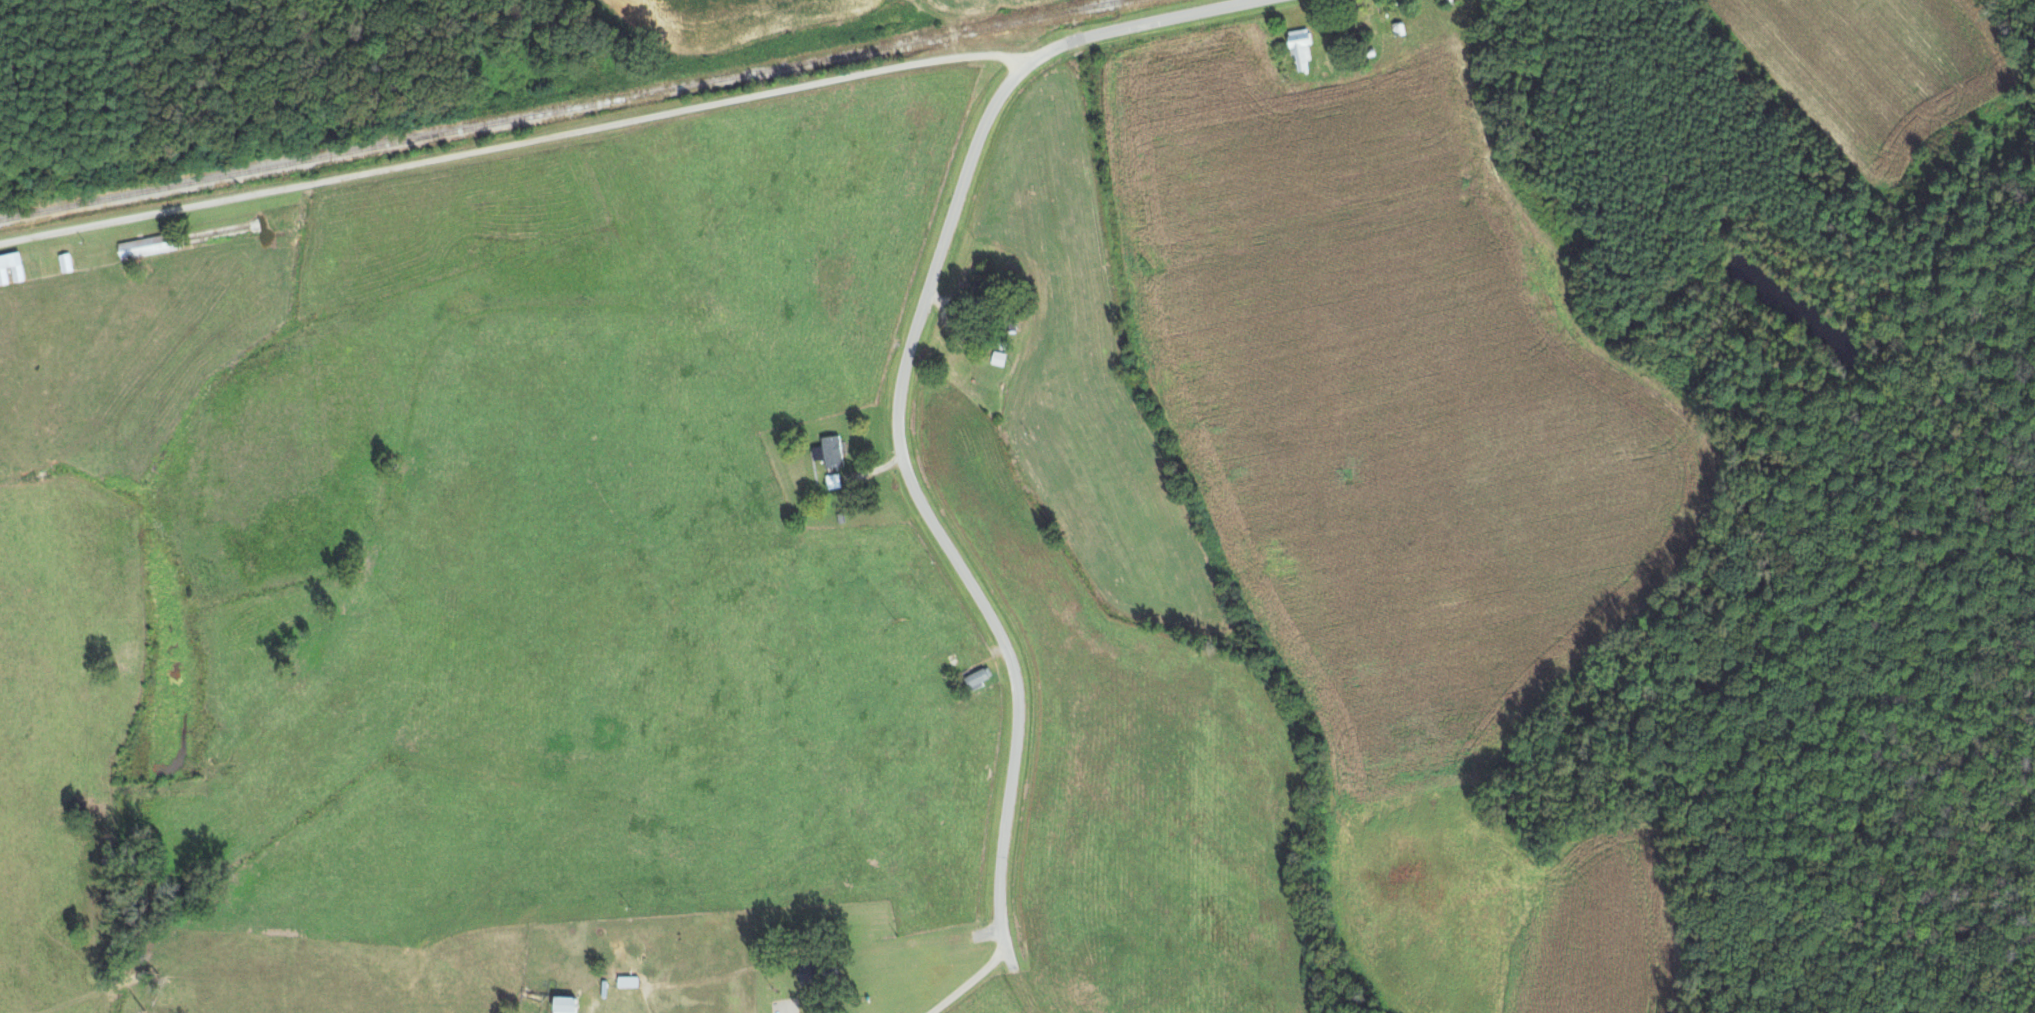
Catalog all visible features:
building: (1301, 47)
railway: (561, 111)
road: (511, 143)
building: (149, 245)
building: (66, 262)
building: (11, 268)
building: (999, 358)
road: (881, 391)
building: (830, 451)
building: (833, 481)
building: (979, 677)
building: (814, 974)
road: (975, 978)
building: (566, 1005)

